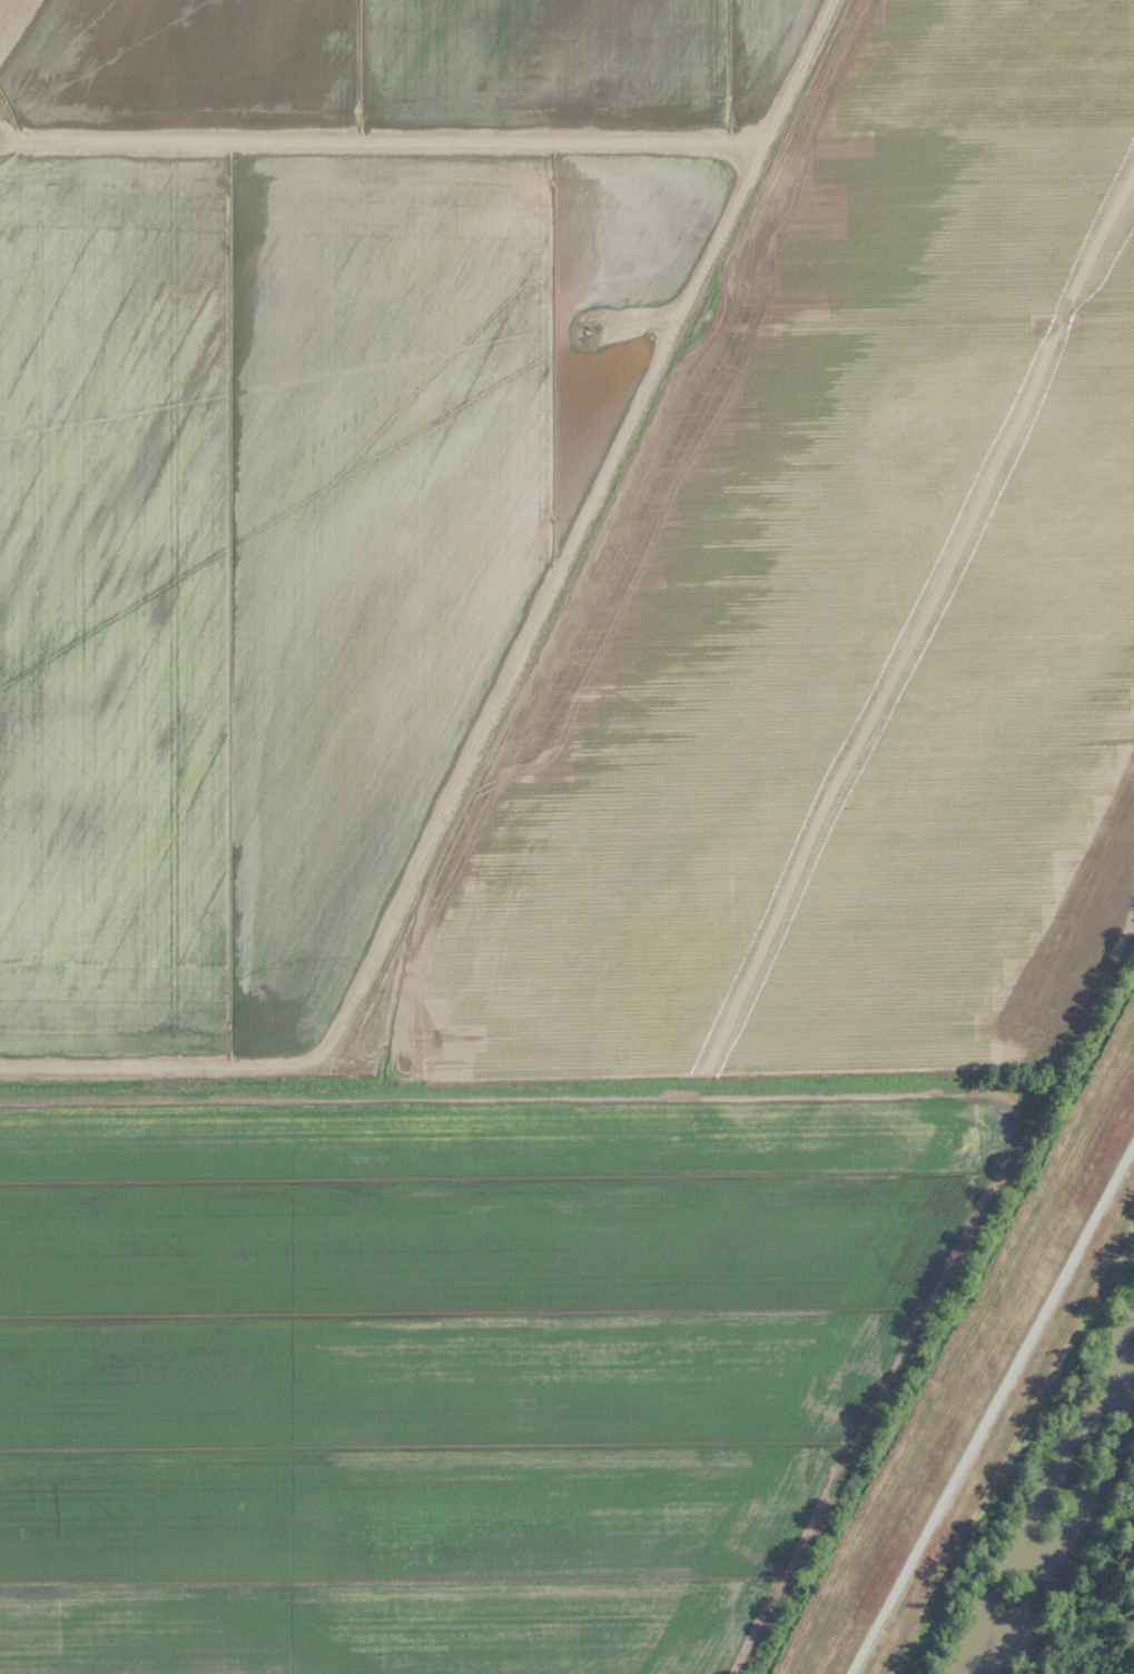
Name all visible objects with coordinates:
road: (990, 1408)

